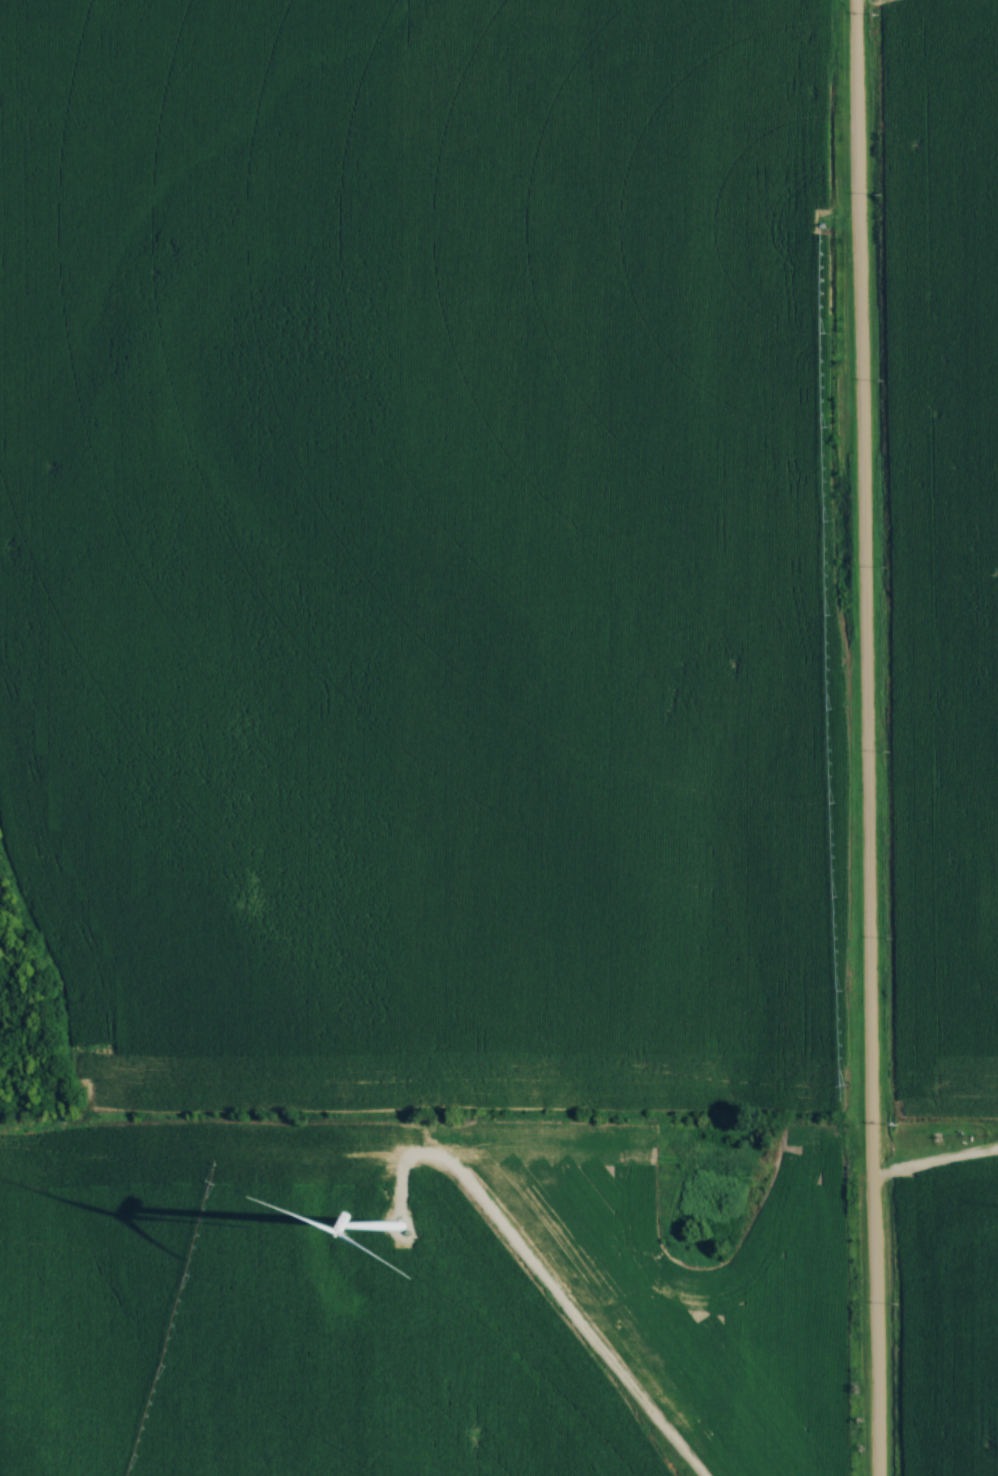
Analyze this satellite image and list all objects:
road: (863, 737)
road: (933, 1163)
wind turbine: (401, 1224)
road: (545, 1284)

